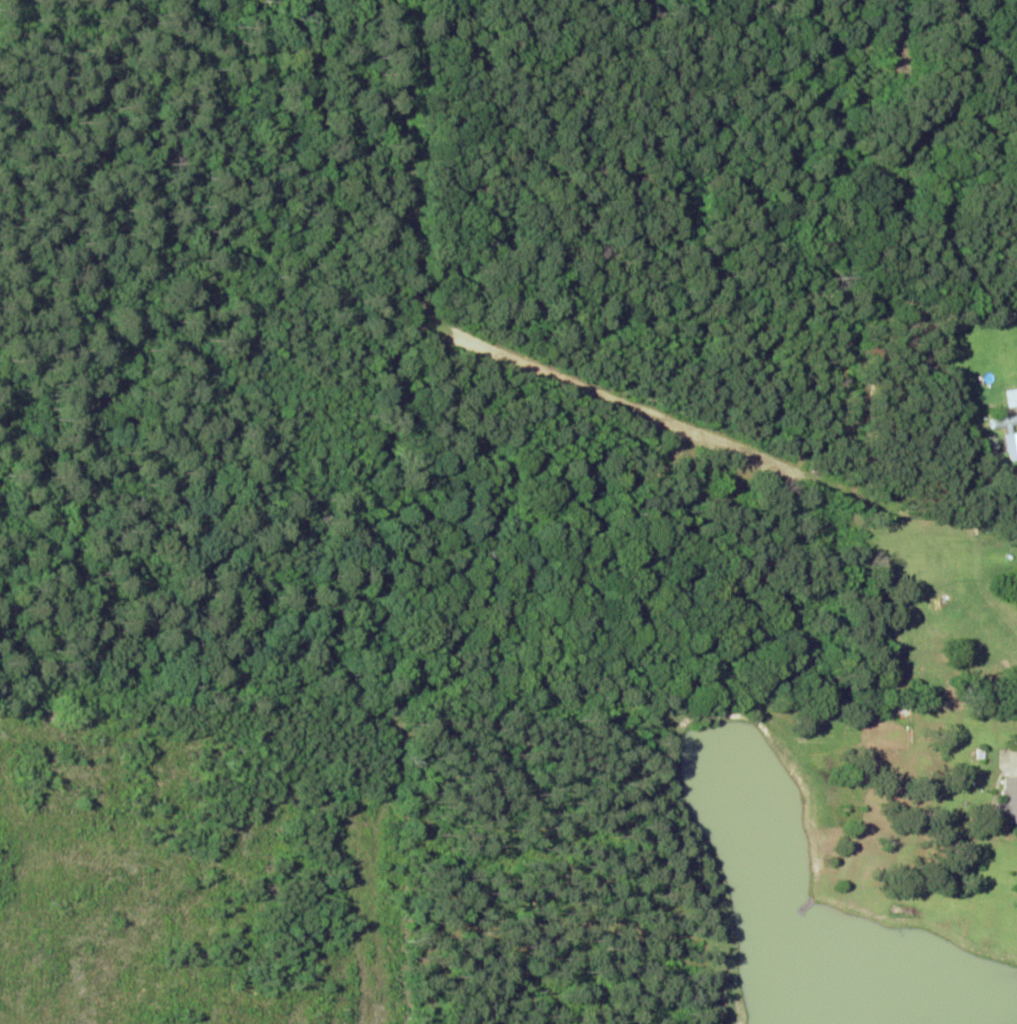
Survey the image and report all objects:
road: (965, 61)
building: (1011, 446)
building: (1009, 801)

